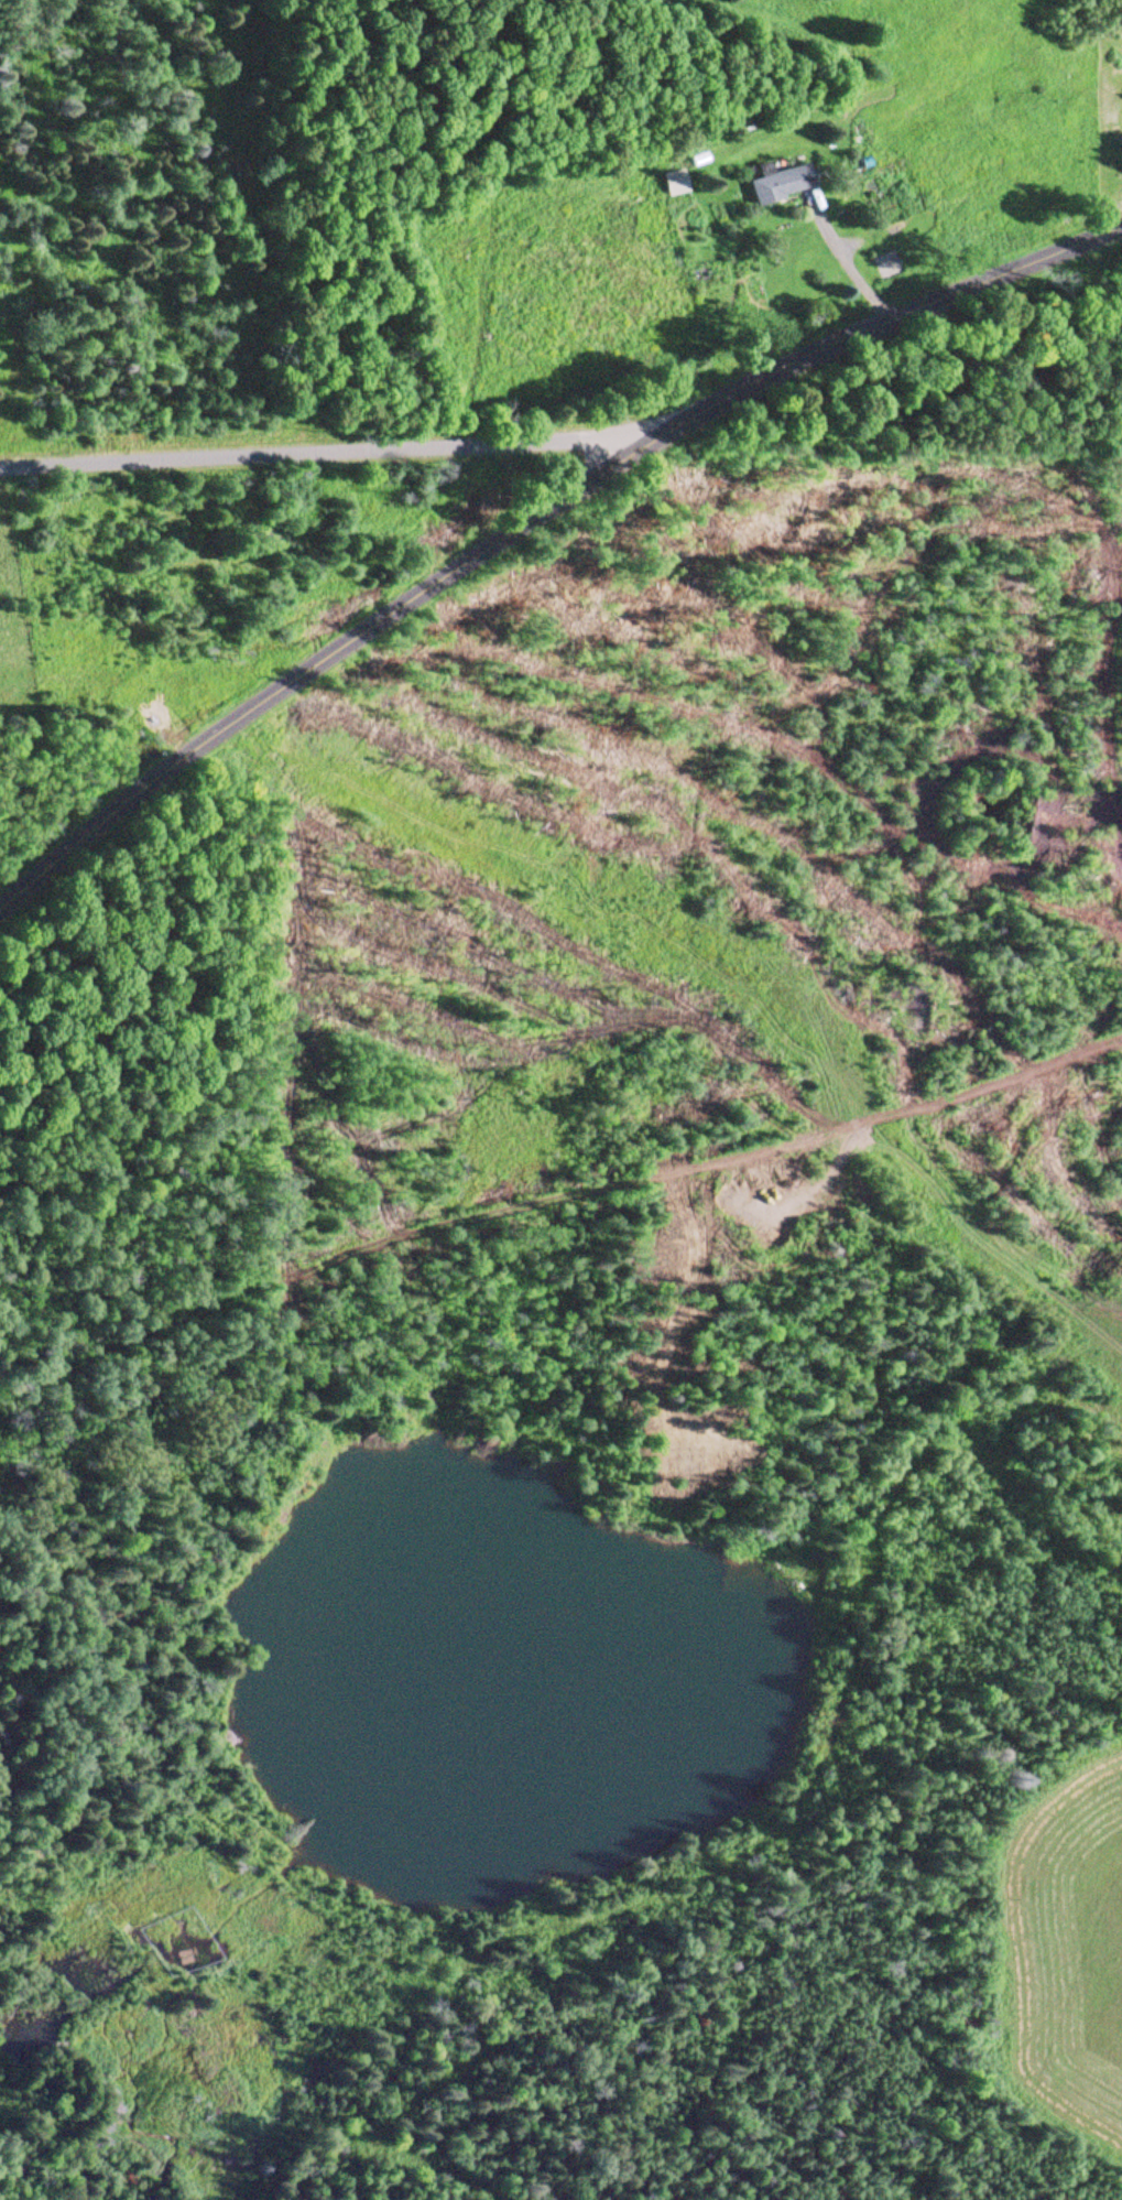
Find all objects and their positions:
building: (668, 184)
building: (774, 184)
road: (569, 475)
road: (303, 478)
road: (42, 880)
road: (374, 2193)

